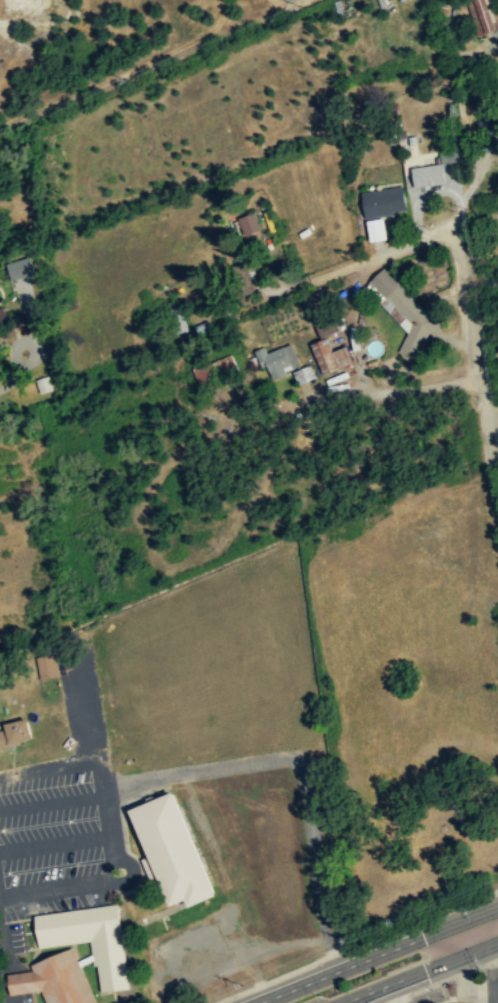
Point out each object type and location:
building: (485, 15)
quarry: (37, 24)
road: (120, 72)
building: (429, 176)
road: (470, 185)
building: (384, 203)
building: (249, 224)
road: (412, 241)
building: (22, 267)
building: (317, 297)
building: (405, 311)
building: (177, 320)
building: (335, 355)
road: (357, 357)
road: (478, 361)
building: (283, 364)
building: (217, 374)
road: (396, 390)
building: (14, 733)
road: (96, 751)
road: (271, 758)
road: (101, 770)
road: (53, 802)
road: (55, 842)
building: (170, 850)
road: (126, 881)
road: (55, 884)
building: (90, 940)
road: (375, 955)
road: (6, 962)
road: (419, 972)
building: (54, 979)
road: (463, 979)

